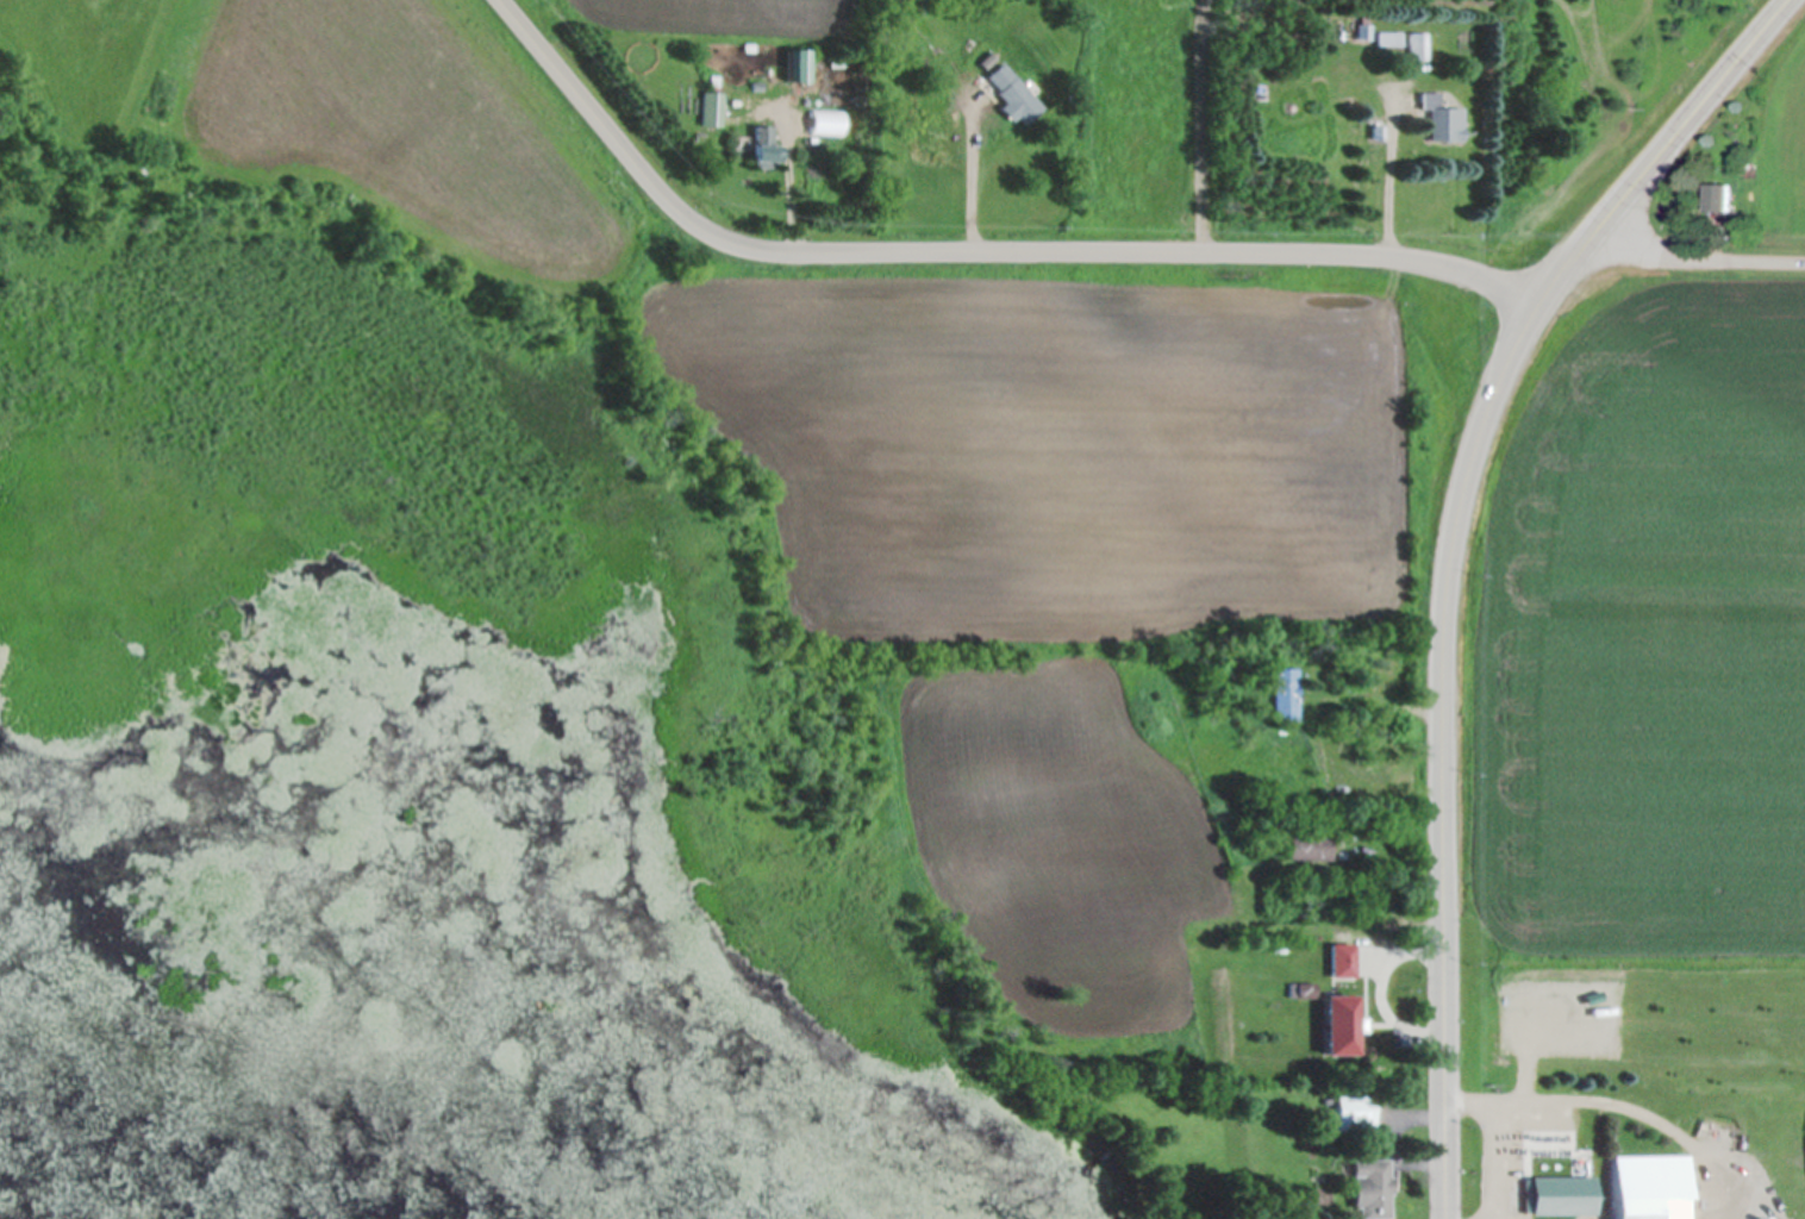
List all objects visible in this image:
building: (1387, 38)
building: (1417, 46)
building: (795, 67)
building: (1016, 93)
building: (712, 110)
building: (1442, 119)
road: (1208, 121)
building: (767, 149)
road: (795, 169)
road: (1398, 171)
road: (1648, 171)
road: (983, 174)
building: (1717, 200)
road: (978, 245)
road: (1690, 257)
building: (1286, 694)
road: (1442, 779)
building: (1311, 848)
building: (1341, 1024)
road: (1619, 1105)
building: (1354, 1112)
road: (1498, 1156)
building: (1560, 1183)
building: (1651, 1186)
building: (1372, 1188)

